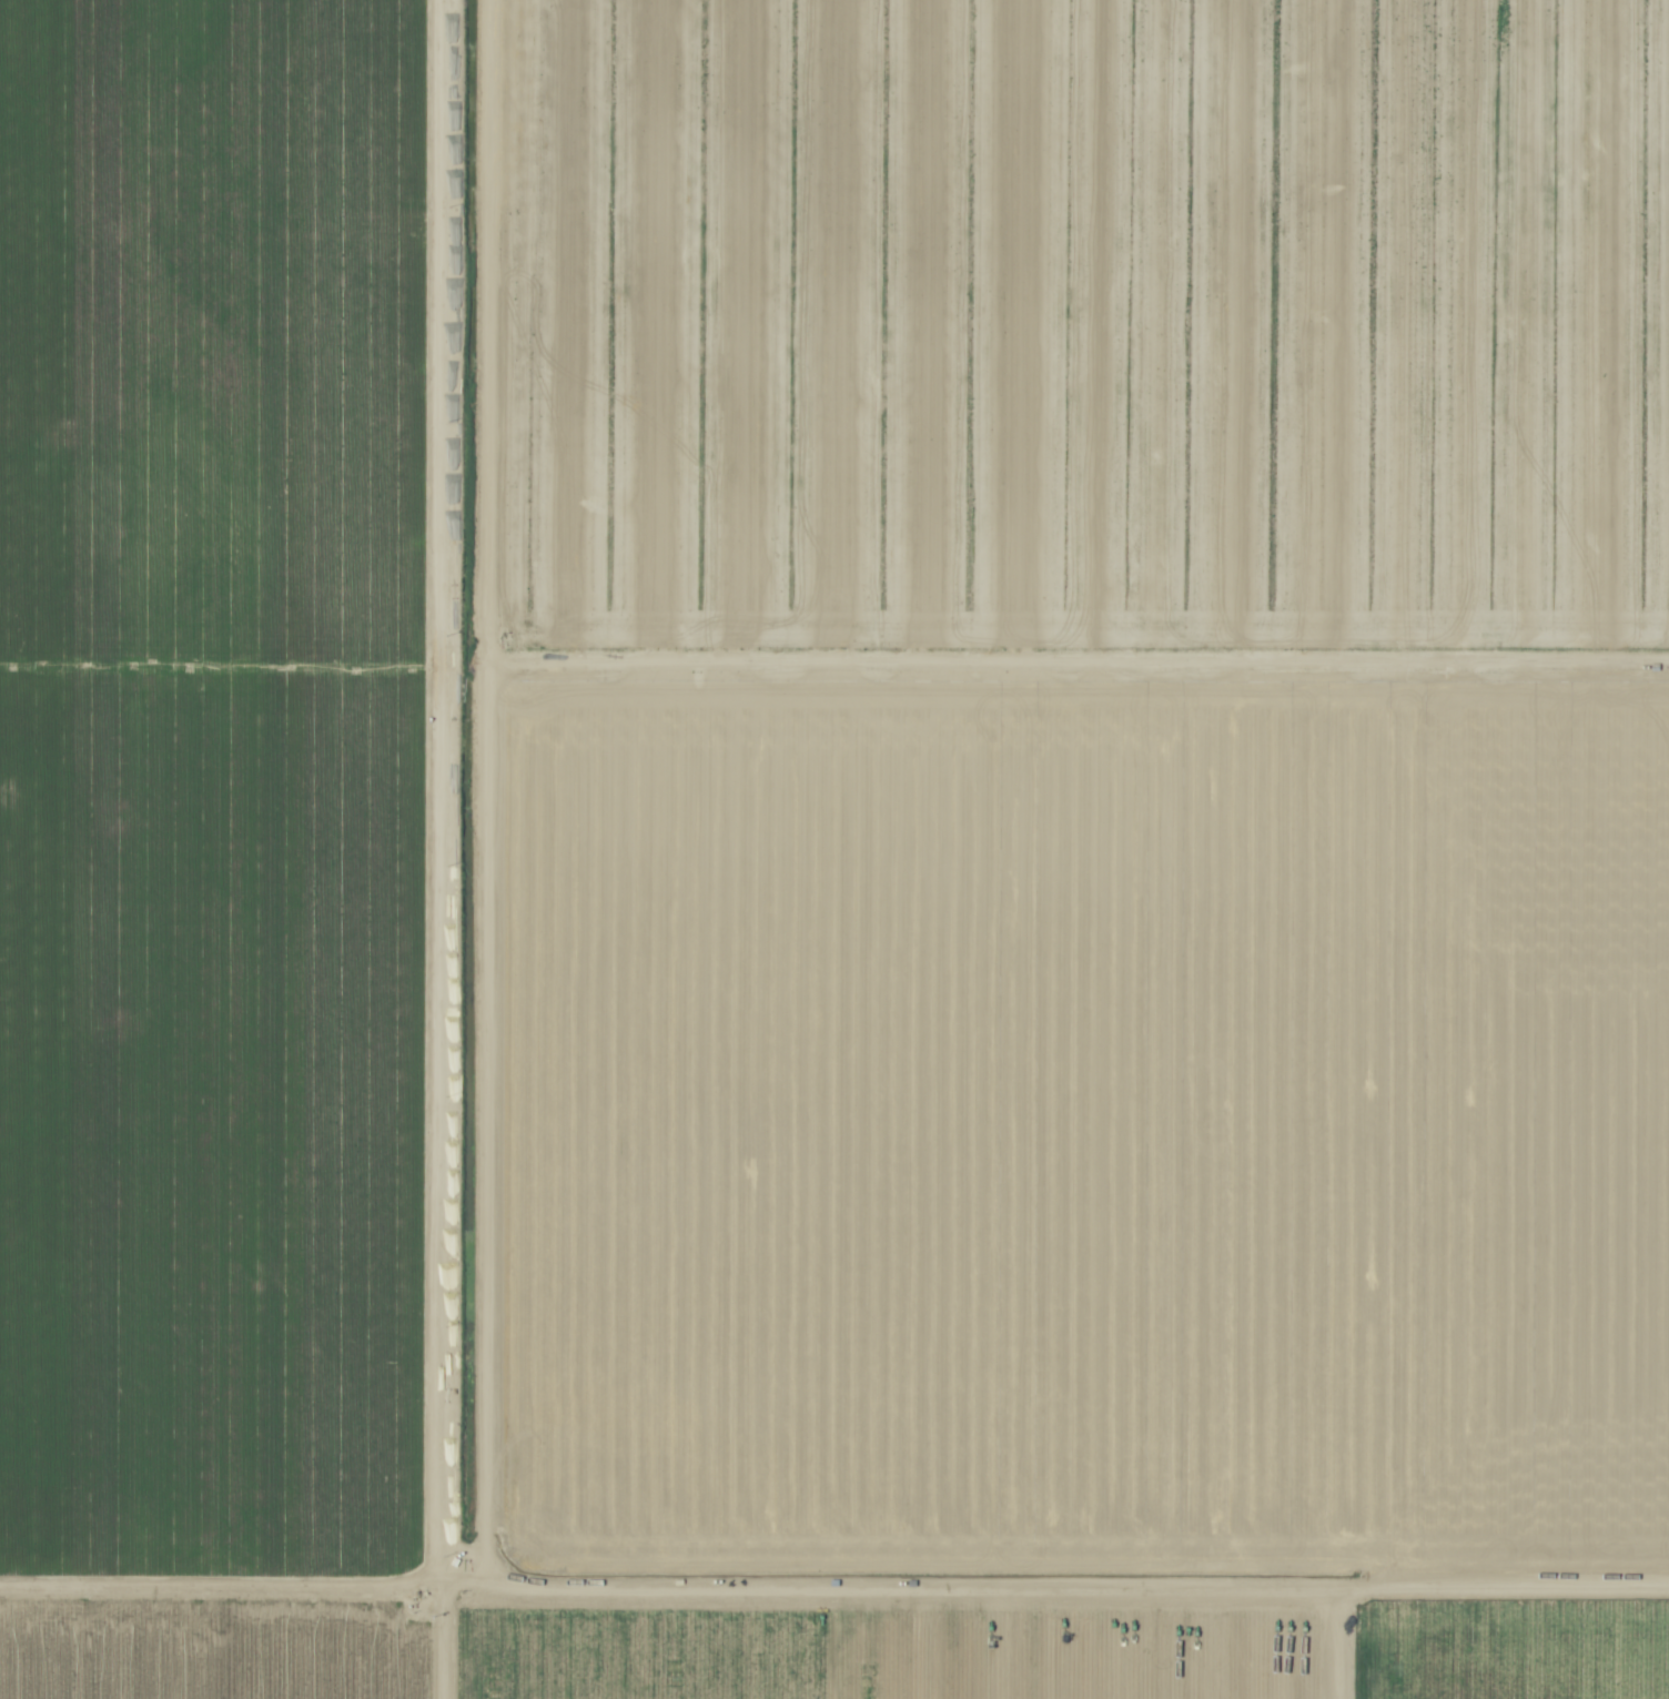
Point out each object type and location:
road: (443, 849)
crop: (834, 849)
road: (834, 1574)
road: (1329, 1628)

